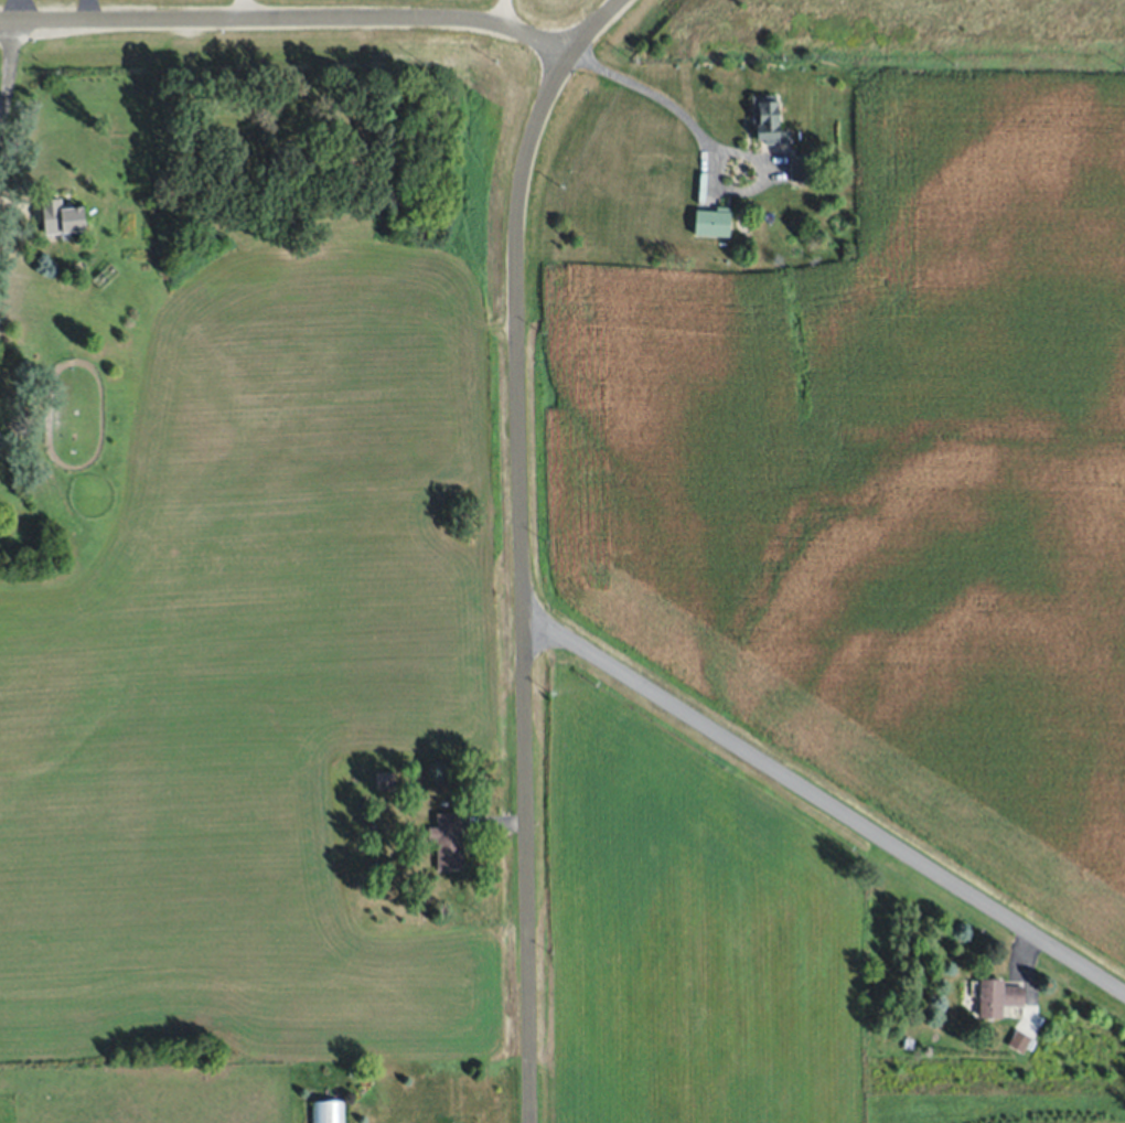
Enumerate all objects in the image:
road: (503, 13)
road: (288, 18)
road: (9, 72)
road: (650, 93)
building: (768, 120)
building: (800, 167)
building: (60, 216)
building: (712, 222)
road: (522, 545)
building: (385, 780)
road: (824, 802)
building: (447, 839)
building: (997, 997)
building: (1019, 1042)
building: (326, 1111)

